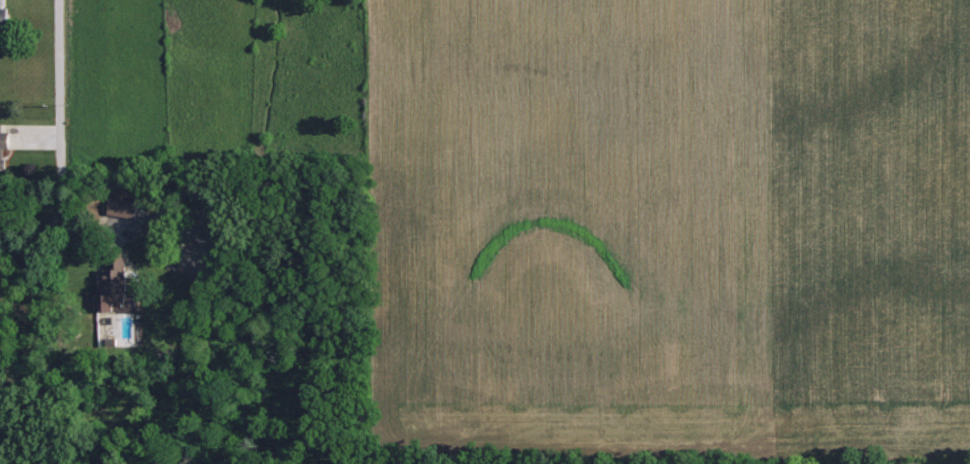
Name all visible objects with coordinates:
building: (5, 21)
building: (4, 147)
road: (57, 170)
building: (124, 207)
building: (111, 290)
road: (2, 446)

